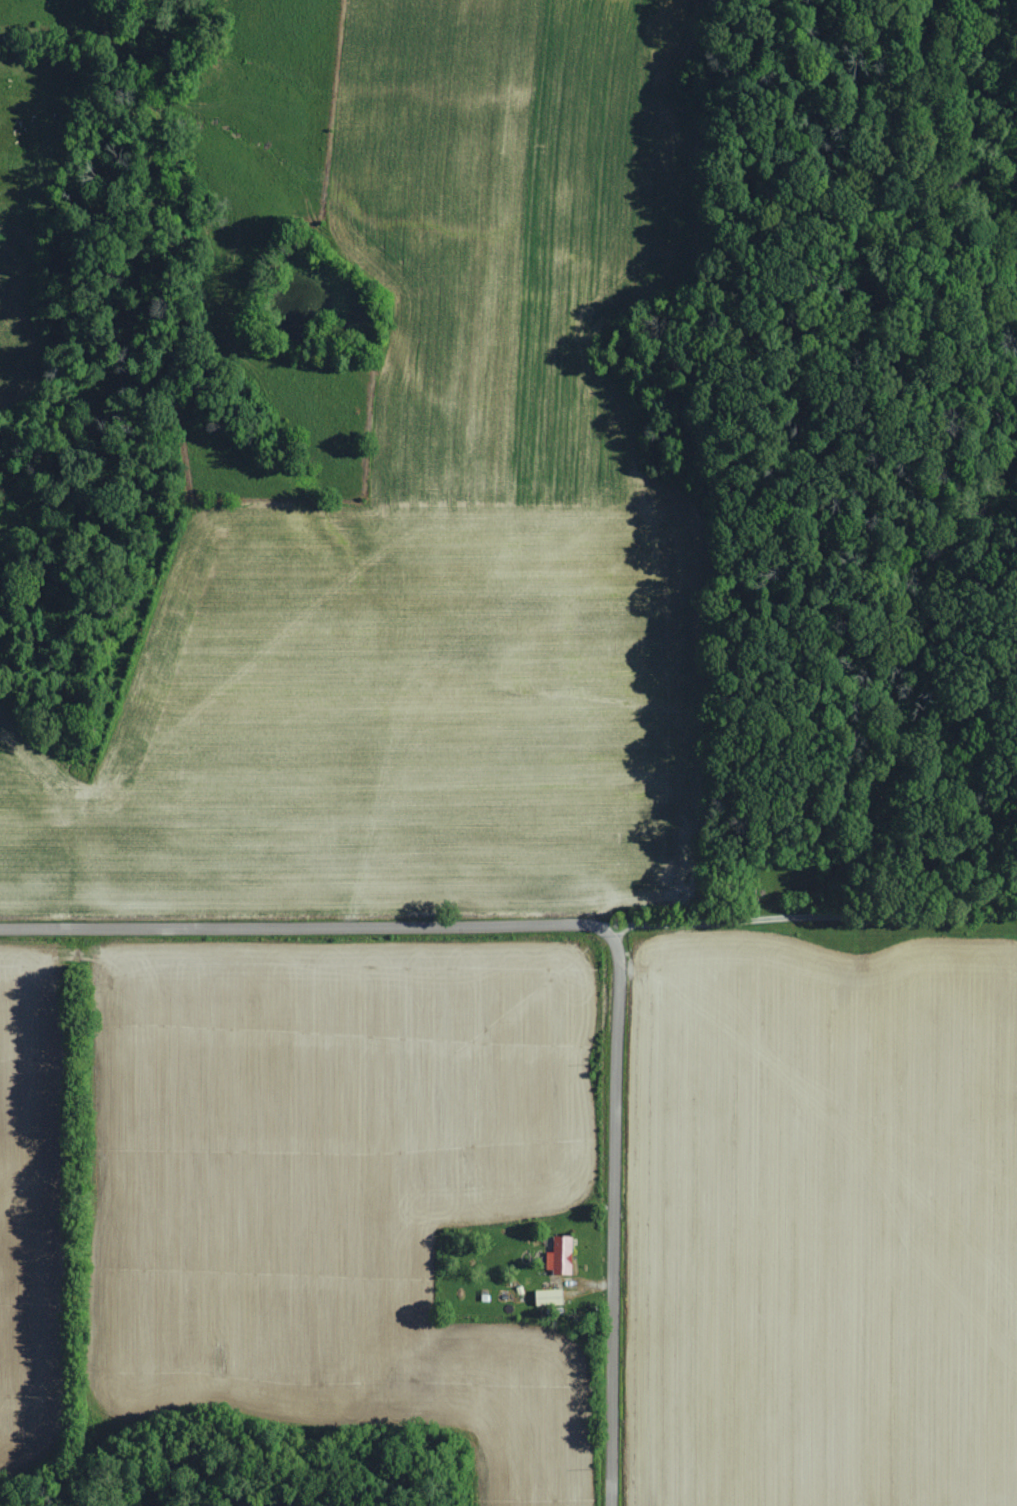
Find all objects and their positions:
road: (508, 927)
road: (615, 1215)
building: (562, 1257)
building: (552, 1298)

